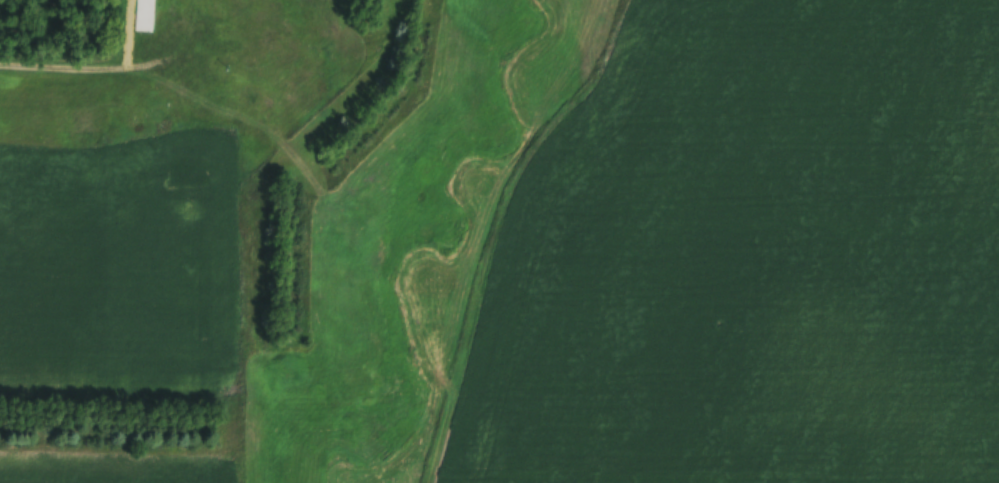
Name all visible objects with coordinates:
building: (143, 17)
building: (325, 61)
road: (106, 68)

